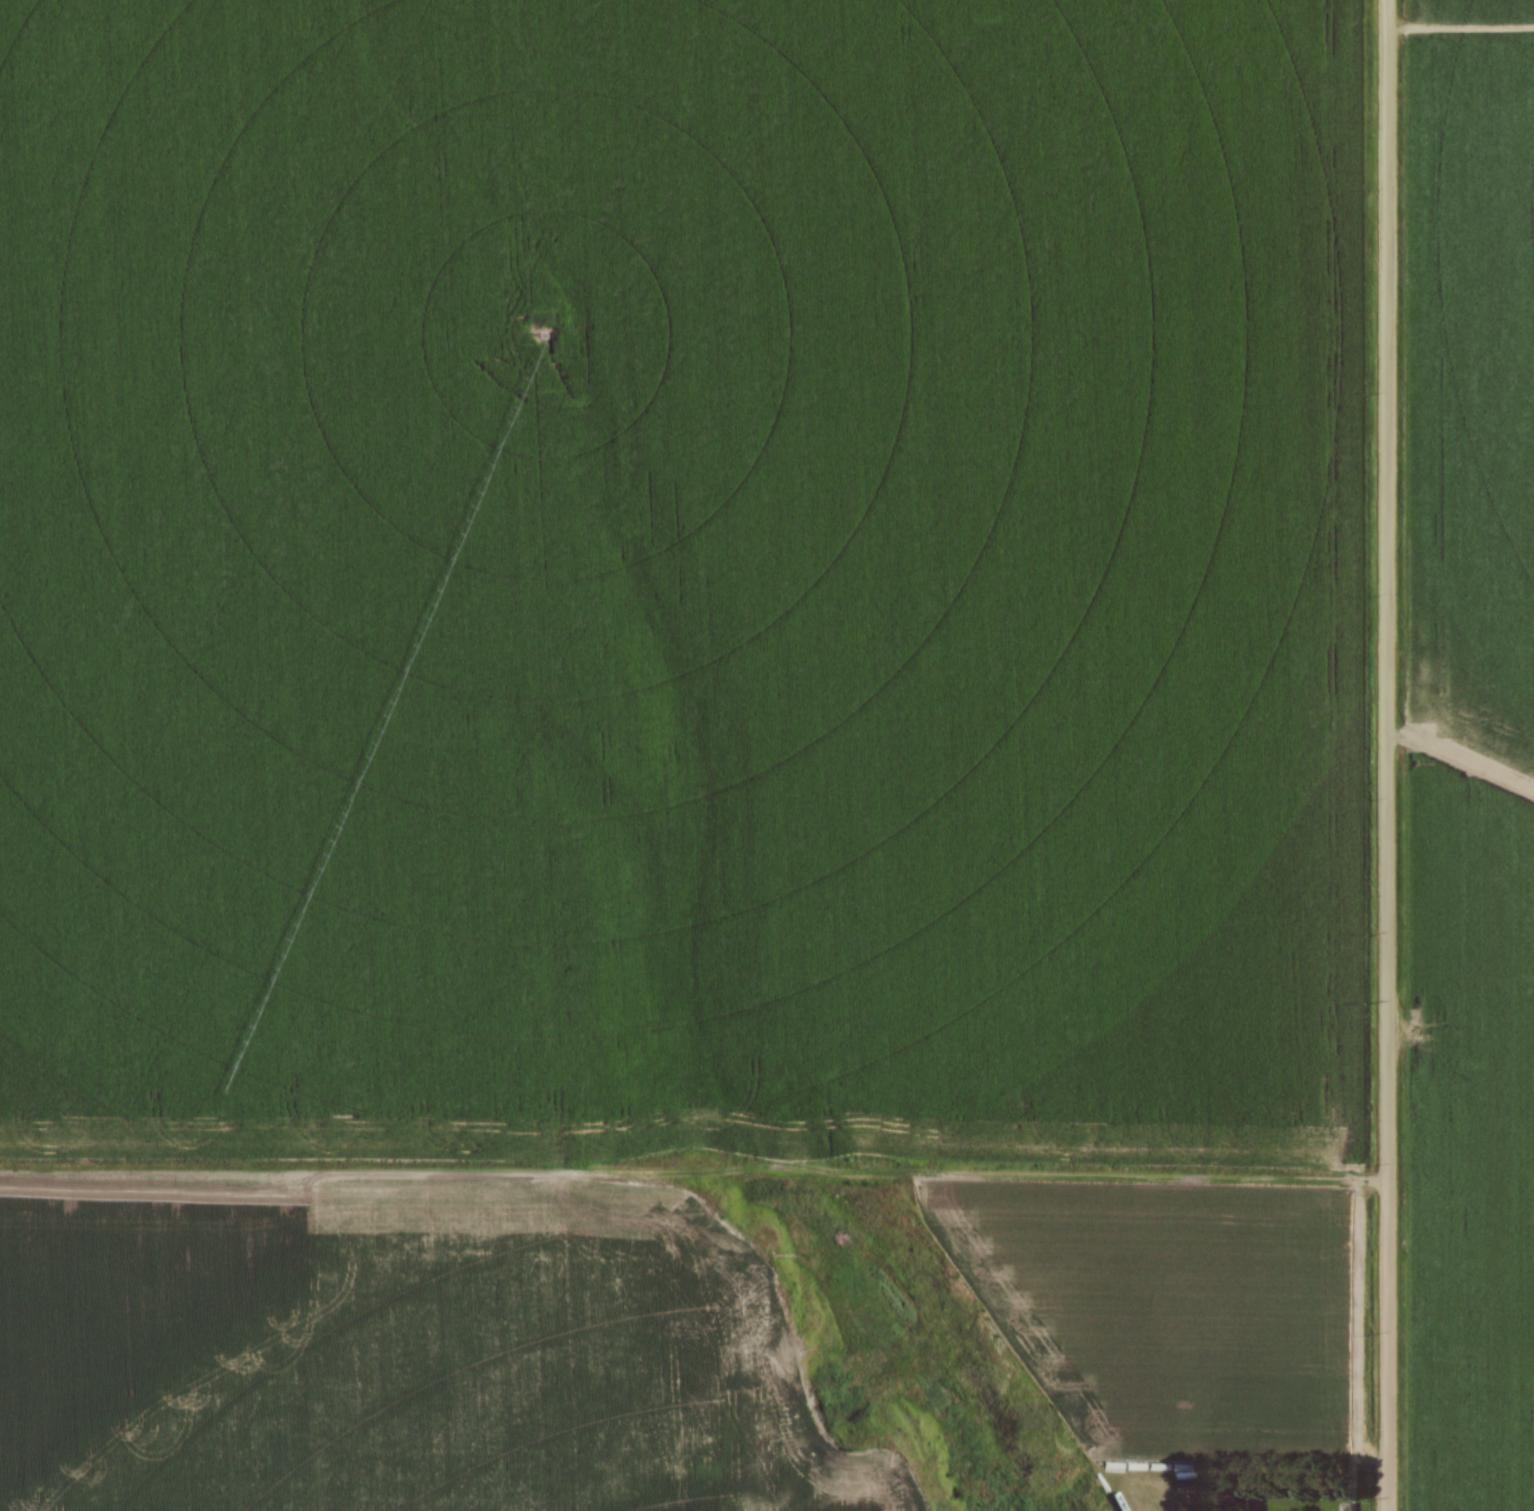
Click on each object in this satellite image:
road: (1389, 755)
building: (1349, 1507)

